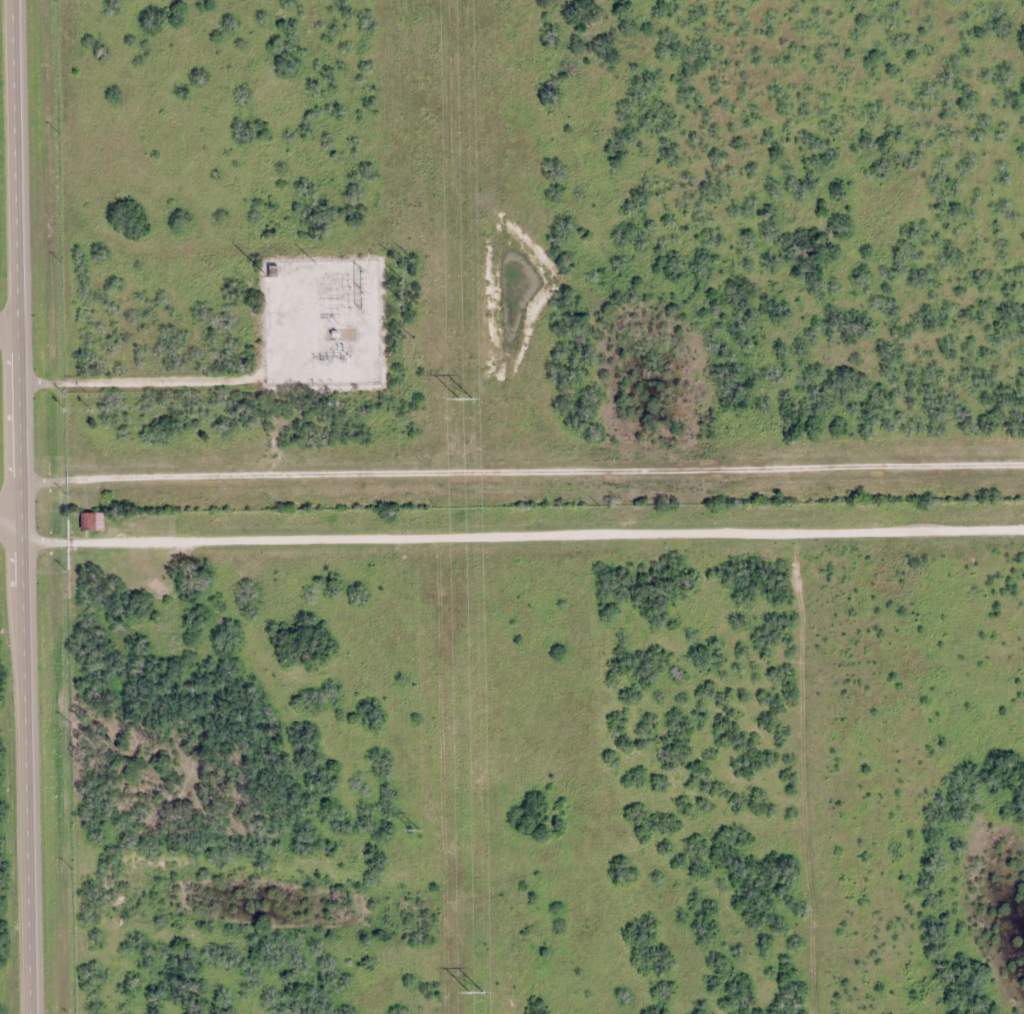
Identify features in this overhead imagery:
power tower: (404, 260)
power tower: (406, 284)
power tower: (410, 304)
power substation: (322, 324)
road: (11, 331)
power tower: (406, 340)
power tower: (462, 402)
road: (525, 470)
road: (24, 506)
building: (87, 524)
road: (511, 537)
power tower: (415, 832)
power tower: (475, 995)

